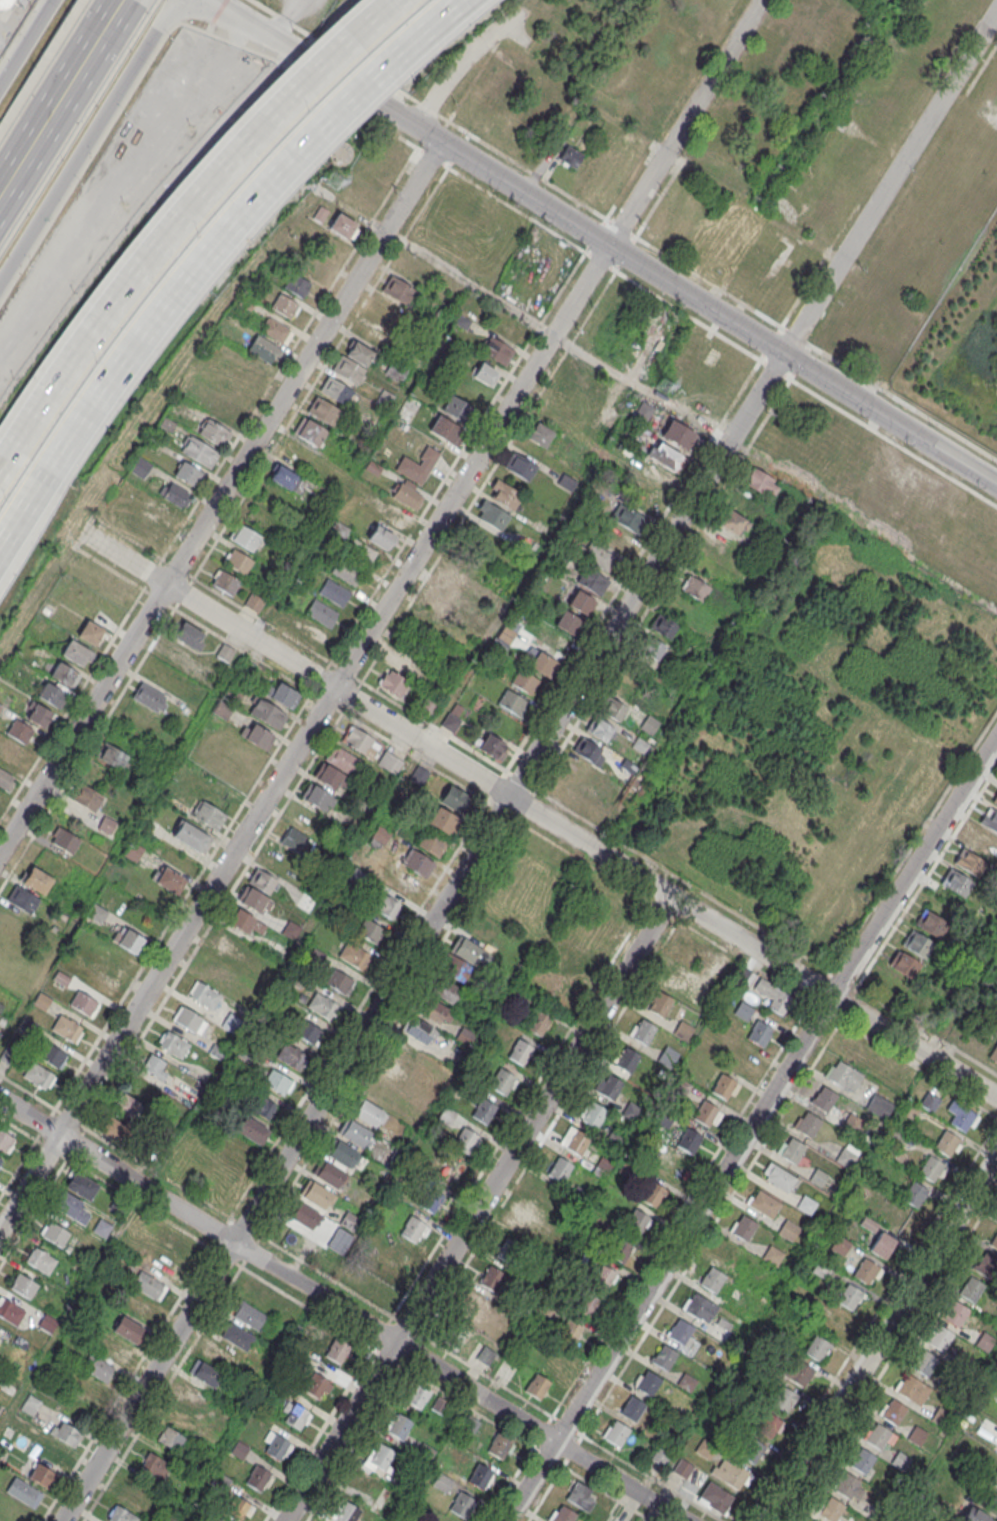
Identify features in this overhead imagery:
building: (4, 3)
road: (286, 20)
road: (27, 42)
road: (59, 96)
road: (86, 142)
building: (570, 156)
road: (671, 159)
road: (546, 163)
power tower: (334, 181)
road: (889, 181)
road: (182, 209)
building: (320, 215)
road: (237, 218)
building: (342, 227)
road: (602, 241)
building: (297, 285)
building: (401, 291)
building: (284, 305)
building: (386, 311)
building: (276, 330)
building: (379, 334)
building: (264, 349)
wastewater plant: (960, 350)
building: (496, 351)
building: (348, 370)
building: (484, 374)
building: (664, 380)
power tower: (658, 385)
building: (336, 390)
road: (656, 394)
building: (323, 410)
building: (459, 410)
building: (447, 430)
building: (309, 431)
building: (214, 432)
building: (538, 434)
building: (676, 435)
building: (199, 451)
road: (4, 452)
building: (665, 457)
building: (417, 464)
building: (520, 465)
building: (188, 473)
building: (283, 477)
building: (655, 478)
building: (760, 482)
building: (359, 488)
building: (173, 493)
building: (504, 494)
building: (407, 496)
road: (220, 498)
building: (165, 511)
road: (25, 513)
building: (492, 515)
building: (395, 516)
building: (630, 517)
building: (731, 521)
building: (244, 536)
building: (381, 536)
building: (360, 551)
building: (598, 556)
building: (238, 562)
building: (346, 571)
building: (452, 576)
building: (592, 580)
building: (226, 583)
building: (115, 585)
building: (695, 589)
building: (334, 592)
building: (440, 600)
building: (580, 602)
building: (254, 603)
building: (321, 612)
road: (380, 614)
building: (567, 621)
building: (663, 628)
building: (91, 632)
building: (309, 633)
building: (190, 636)
building: (76, 652)
building: (649, 652)
building: (225, 654)
building: (402, 663)
building: (541, 664)
building: (65, 674)
building: (208, 675)
building: (524, 681)
building: (393, 684)
road: (218, 690)
building: (51, 693)
building: (282, 695)
building: (618, 696)
building: (150, 698)
building: (513, 702)
building: (39, 714)
building: (268, 714)
building: (648, 726)
building: (20, 730)
building: (599, 730)
building: (256, 735)
park: (825, 736)
building: (360, 743)
building: (490, 744)
building: (640, 746)
building: (587, 750)
building: (9, 751)
building: (115, 758)
building: (342, 760)
building: (389, 764)
building: (419, 776)
building: (328, 777)
building: (6, 779)
building: (317, 797)
building: (87, 798)
building: (454, 798)
building: (995, 798)
building: (209, 814)
road: (543, 817)
building: (990, 818)
building: (442, 822)
building: (107, 825)
building: (380, 835)
building: (192, 836)
building: (294, 839)
building: (982, 841)
building: (64, 842)
building: (430, 844)
building: (969, 861)
building: (417, 863)
building: (169, 879)
building: (37, 880)
building: (957, 882)
building: (259, 891)
building: (25, 900)
building: (306, 902)
building: (385, 906)
road: (321, 907)
building: (98, 914)
building: (244, 922)
building: (930, 923)
building: (291, 930)
building: (370, 932)
building: (594, 935)
road: (421, 936)
building: (127, 939)
building: (917, 943)
building: (234, 945)
building: (467, 950)
building: (354, 955)
building: (904, 963)
building: (575, 964)
building: (261, 971)
building: (677, 977)
building: (339, 981)
building: (104, 982)
building: (442, 988)
building: (557, 993)
building: (203, 995)
building: (774, 995)
building: (84, 1003)
building: (660, 1004)
building: (322, 1006)
building: (430, 1008)
building: (190, 1020)
building: (538, 1022)
building: (67, 1028)
building: (417, 1029)
building: (308, 1030)
building: (683, 1030)
building: (643, 1031)
building: (760, 1032)
building: (173, 1044)
building: (405, 1049)
building: (854, 1050)
building: (519, 1051)
building: (993, 1053)
building: (51, 1055)
building: (290, 1057)
building: (741, 1058)
building: (627, 1059)
building: (154, 1066)
building: (392, 1070)
building: (844, 1076)
building: (39, 1077)
building: (501, 1081)
building: (277, 1083)
building: (610, 1086)
building: (725, 1086)
building: (825, 1099)
building: (930, 1101)
building: (126, 1105)
building: (880, 1105)
building: (263, 1108)
building: (910, 1109)
building: (483, 1110)
building: (367, 1111)
building: (593, 1114)
building: (707, 1114)
building: (963, 1117)
building: (808, 1125)
road: (751, 1128)
building: (112, 1129)
building: (251, 1130)
building: (353, 1132)
building: (895, 1135)
building: (465, 1140)
building: (689, 1140)
building: (6, 1142)
building: (578, 1142)
building: (946, 1143)
building: (239, 1149)
building: (791, 1149)
building: (341, 1152)
building: (847, 1155)
building: (0, 1159)
building: (931, 1168)
building: (560, 1170)
building: (328, 1172)
building: (445, 1172)
building: (779, 1177)
building: (81, 1186)
building: (316, 1193)
building: (914, 1194)
building: (653, 1195)
building: (430, 1199)
building: (764, 1204)
building: (806, 1204)
building: (71, 1208)
road: (477, 1208)
building: (303, 1214)
building: (898, 1219)
building: (636, 1223)
building: (529, 1224)
building: (101, 1228)
building: (411, 1228)
building: (744, 1229)
building: (789, 1230)
building: (54, 1234)
building: (994, 1242)
building: (174, 1243)
building: (840, 1245)
building: (881, 1245)
building: (507, 1250)
building: (620, 1250)
building: (773, 1255)
building: (40, 1261)
building: (160, 1263)
building: (986, 1265)
building: (822, 1269)
building: (865, 1272)
building: (602, 1276)
building: (491, 1278)
building: (713, 1280)
building: (149, 1285)
building: (23, 1286)
building: (376, 1286)
building: (971, 1290)
building: (849, 1297)
building: (474, 1303)
building: (586, 1304)
building: (136, 1306)
building: (700, 1307)
road: (341, 1309)
building: (10, 1311)
building: (955, 1314)
building: (249, 1315)
building: (834, 1322)
building: (48, 1323)
building: (127, 1328)
building: (721, 1329)
building: (681, 1331)
building: (570, 1332)
building: (236, 1335)
building: (0, 1337)
building: (455, 1338)
road: (880, 1338)
building: (940, 1339)
building: (984, 1341)
building: (817, 1348)
building: (337, 1349)
building: (115, 1350)
building: (213, 1354)
building: (485, 1356)
building: (665, 1357)
building: (924, 1363)
building: (97, 1367)
building: (205, 1373)
building: (800, 1374)
building: (687, 1382)
building: (648, 1383)
building: (537, 1385)
building: (83, 1387)
building: (316, 1387)
building: (913, 1390)
building: (192, 1394)
building: (416, 1399)
building: (784, 1399)
building: (30, 1405)
building: (633, 1409)
building: (893, 1412)
building: (294, 1416)
building: (183, 1420)
building: (767, 1422)
building: (470, 1424)
building: (398, 1426)
building: (65, 1433)
building: (616, 1434)
building: (917, 1435)
building: (878, 1436)
building: (170, 1439)
building: (499, 1446)
building: (277, 1448)
building: (705, 1448)
building: (238, 1450)
building: (752, 1450)
building: (377, 1459)
building: (900, 1460)
building: (862, 1461)
building: (155, 1465)
building: (683, 1468)
building: (730, 1474)
building: (42, 1475)
building: (481, 1475)
building: (258, 1478)
building: (994, 1478)
building: (218, 1482)
building: (847, 1486)
building: (22, 1491)
building: (138, 1491)
building: (580, 1496)
building: (715, 1497)
building: (462, 1504)
building: (237, 1509)
building: (831, 1509)
building: (346, 1513)
building: (120, 1514)
building: (564, 1514)
building: (976, 1514)
building: (450, 1520)
building: (812, 1520)

